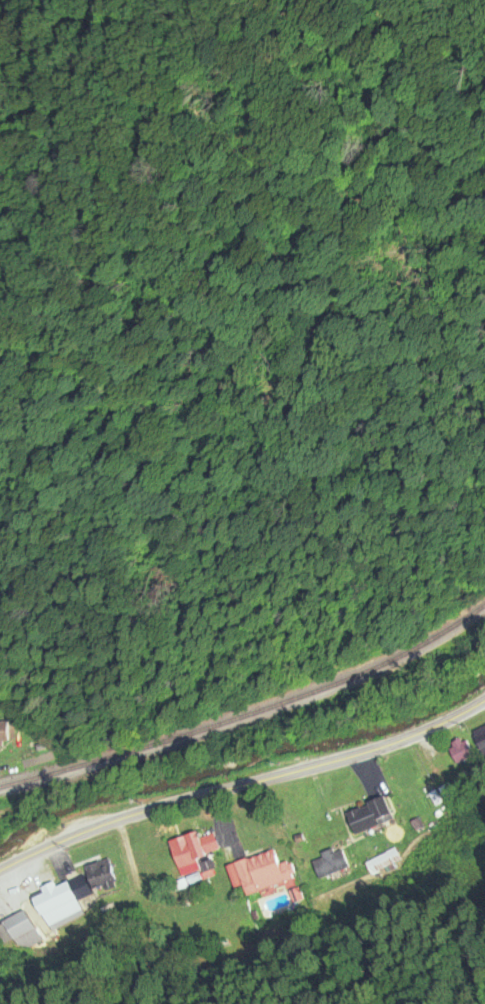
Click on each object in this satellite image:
railway: (248, 711)
building: (3, 734)
building: (482, 747)
building: (461, 752)
road: (241, 780)
building: (369, 816)
building: (193, 848)
building: (329, 863)
building: (260, 873)
building: (100, 875)
building: (53, 898)

